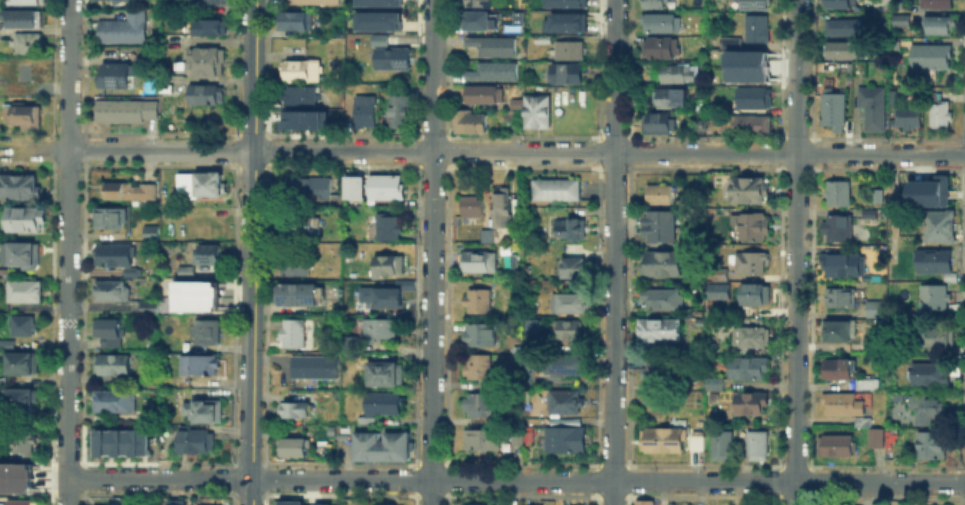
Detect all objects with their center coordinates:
building: (219, 1)
building: (28, 2)
building: (313, 2)
building: (376, 2)
building: (479, 3)
building: (569, 3)
building: (656, 4)
building: (840, 4)
building: (937, 5)
building: (756, 6)
building: (516, 16)
building: (376, 19)
building: (23, 20)
building: (297, 22)
building: (902, 22)
building: (480, 23)
building: (662, 24)
building: (563, 25)
building: (942, 26)
building: (213, 29)
building: (843, 29)
building: (127, 30)
building: (757, 30)
building: (379, 40)
building: (541, 40)
building: (693, 42)
building: (29, 43)
building: (731, 44)
building: (494, 47)
building: (661, 50)
building: (570, 52)
building: (846, 52)
building: (931, 59)
building: (394, 61)
building: (208, 63)
building: (301, 72)
building: (493, 73)
building: (30, 74)
building: (567, 75)
building: (674, 75)
building: (120, 76)
building: (206, 95)
building: (486, 96)
building: (298, 97)
building: (893, 98)
building: (667, 99)
building: (756, 100)
building: (517, 104)
building: (874, 109)
building: (714, 110)
building: (835, 110)
building: (127, 111)
building: (363, 112)
building: (399, 112)
building: (538, 112)
building: (23, 114)
building: (940, 114)
building: (511, 118)
building: (301, 119)
building: (909, 119)
building: (471, 124)
building: (660, 124)
building: (749, 126)
road: (34, 149)
road: (516, 151)
building: (209, 186)
building: (352, 186)
building: (21, 187)
building: (386, 187)
building: (309, 189)
building: (129, 191)
building: (558, 191)
building: (749, 191)
building: (839, 194)
building: (660, 195)
building: (878, 196)
building: (939, 196)
building: (473, 207)
building: (503, 209)
building: (872, 214)
building: (113, 218)
building: (24, 220)
building: (305, 226)
building: (753, 226)
building: (661, 227)
building: (941, 227)
building: (389, 228)
building: (838, 229)
building: (571, 231)
building: (152, 233)
building: (488, 237)
road: (67, 238)
road: (252, 252)
road: (431, 252)
road: (613, 252)
road: (795, 252)
building: (25, 256)
building: (209, 256)
building: (118, 258)
building: (935, 262)
building: (480, 263)
building: (752, 264)
building: (663, 265)
building: (295, 266)
building: (846, 266)
building: (390, 267)
building: (574, 269)
building: (184, 270)
building: (721, 282)
building: (350, 287)
building: (113, 290)
building: (26, 291)
building: (195, 295)
building: (755, 295)
building: (297, 296)
building: (381, 298)
building: (845, 298)
building: (935, 298)
building: (664, 301)
building: (477, 302)
building: (571, 304)
building: (147, 305)
building: (876, 309)
building: (538, 322)
building: (23, 326)
building: (570, 330)
building: (381, 331)
building: (660, 331)
building: (108, 332)
building: (840, 332)
building: (209, 334)
building: (294, 335)
building: (480, 335)
building: (752, 338)
building: (941, 338)
building: (876, 347)
building: (20, 360)
building: (565, 363)
building: (113, 365)
building: (203, 366)
building: (750, 367)
building: (316, 368)
building: (478, 369)
building: (660, 370)
building: (839, 371)
building: (386, 375)
building: (931, 375)
building: (866, 383)
building: (185, 384)
building: (715, 385)
building: (896, 397)
building: (20, 400)
building: (116, 401)
building: (566, 403)
building: (385, 404)
building: (751, 404)
building: (485, 405)
building: (845, 406)
building: (924, 408)
building: (206, 411)
building: (296, 411)
building: (864, 423)
building: (893, 436)
building: (566, 439)
building: (878, 439)
building: (24, 441)
building: (198, 441)
building: (484, 441)
building: (119, 442)
building: (664, 442)
building: (698, 445)
building: (933, 445)
building: (724, 447)
building: (758, 447)
building: (838, 447)
building: (296, 448)
building: (383, 448)
building: (15, 476)
road: (515, 480)
road: (66, 491)
building: (176, 502)
building: (289, 502)
building: (20, 503)
building: (319, 503)
building: (646, 503)
building: (106, 504)
building: (119, 504)
building: (203, 504)
building: (383, 504)
building: (472, 504)

